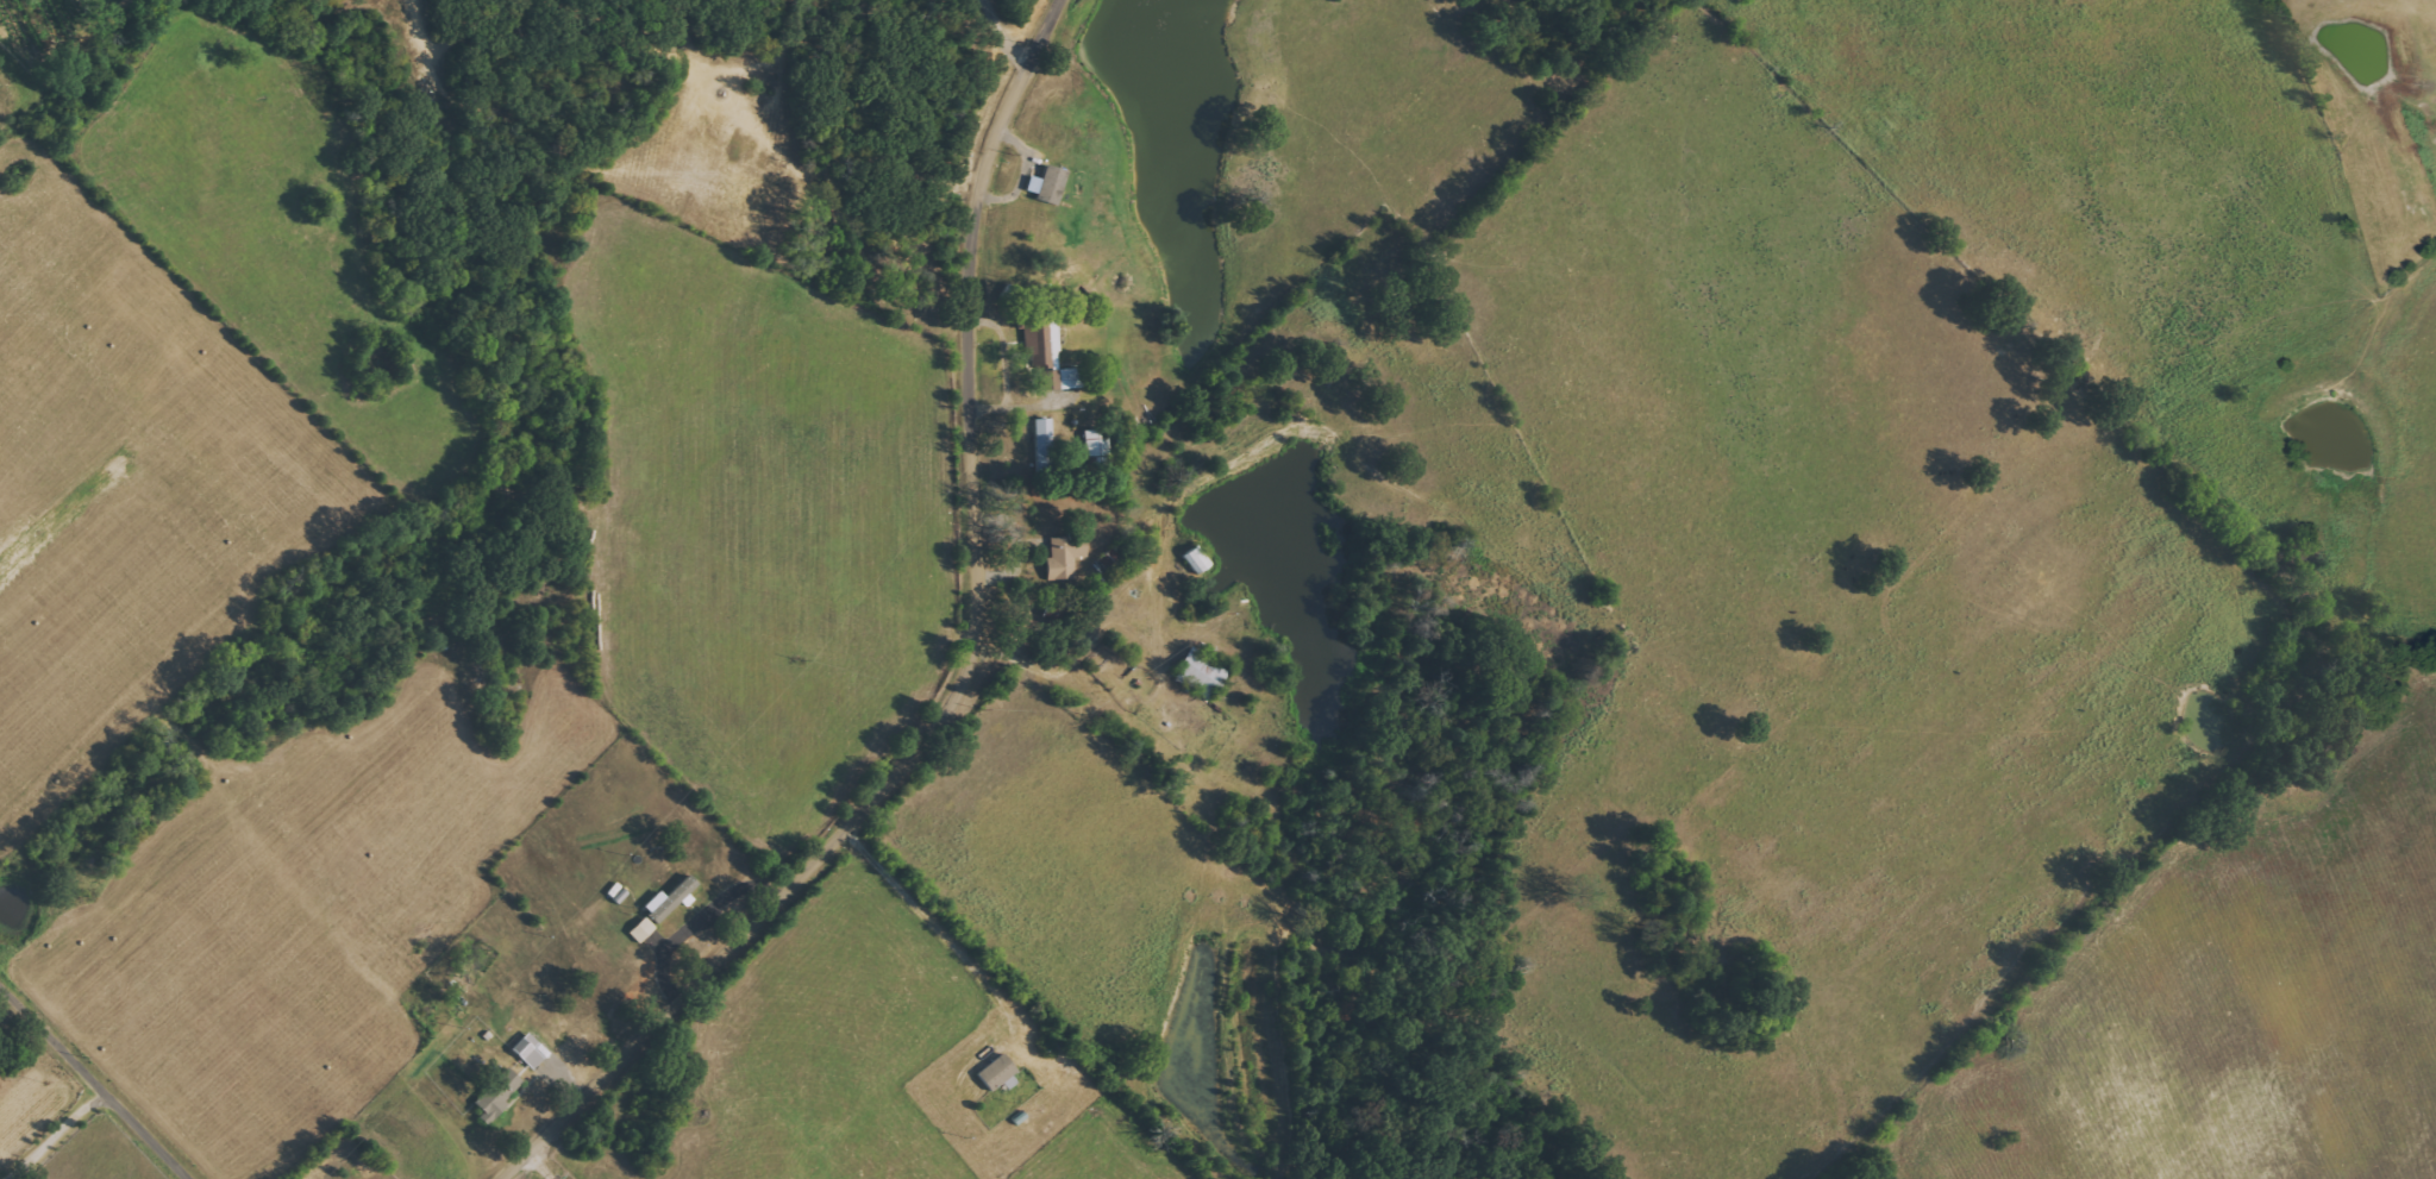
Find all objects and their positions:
road: (1008, 29)
building: (1050, 186)
building: (1048, 353)
building: (1097, 443)
building: (1045, 445)
building: (1065, 558)
road: (976, 672)
building: (1202, 673)
building: (670, 899)
road: (696, 923)
road: (934, 926)
building: (643, 929)
building: (530, 1051)
building: (998, 1071)
building: (500, 1091)
road: (81, 1092)
road: (44, 1139)
road: (545, 1168)

